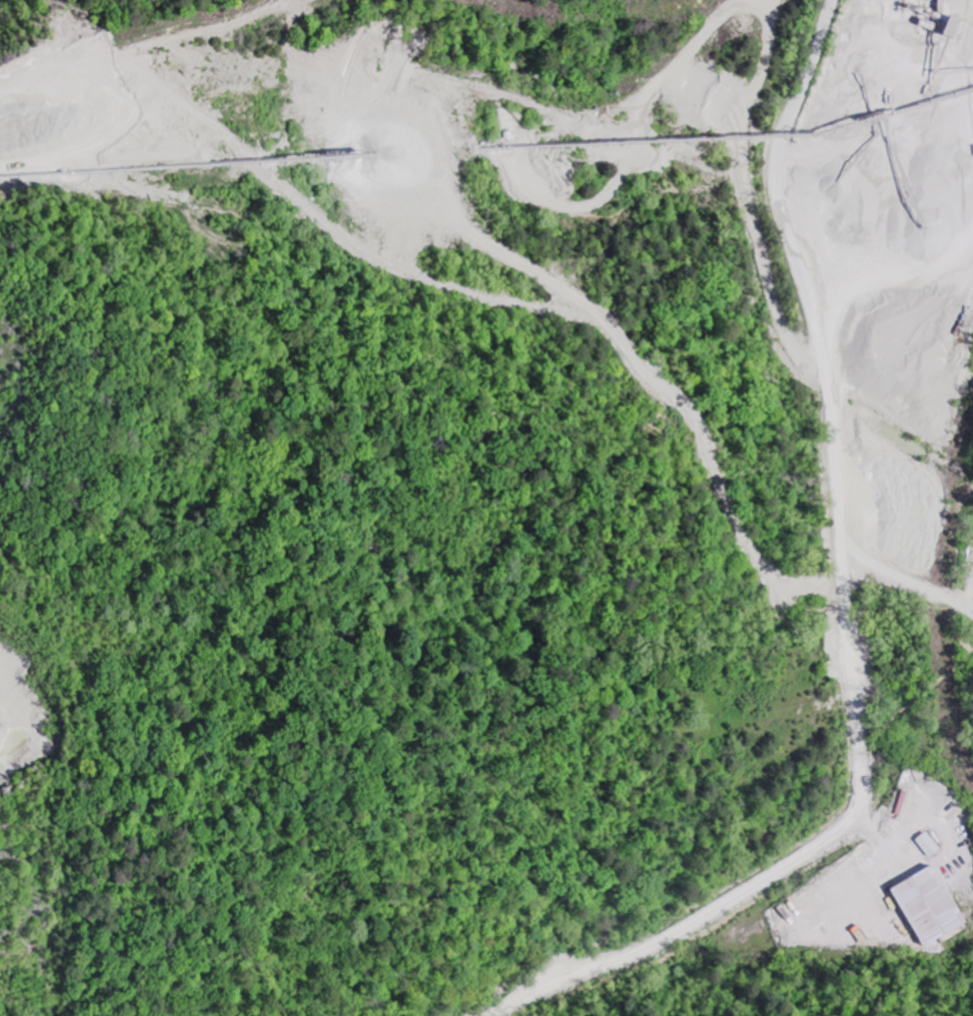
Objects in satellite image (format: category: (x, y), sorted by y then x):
road: (965, 178)
road: (797, 258)
road: (528, 305)
road: (900, 577)
road: (810, 854)
building: (928, 908)

